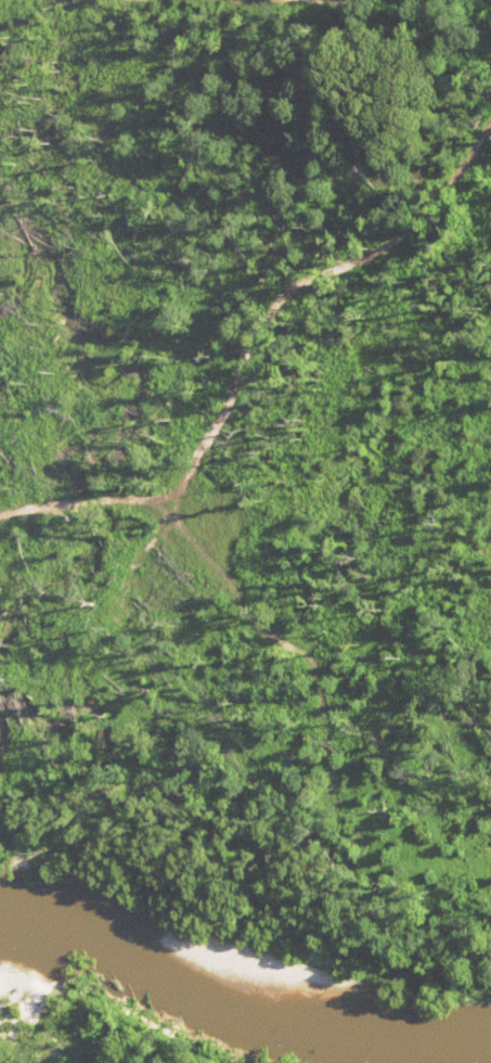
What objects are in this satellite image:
river: (248, 960)

